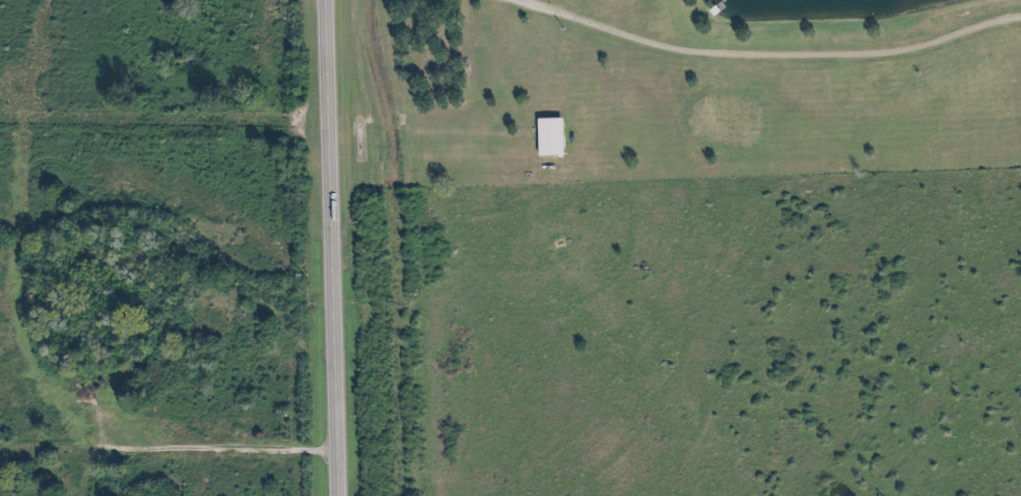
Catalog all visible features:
road: (761, 49)
road: (336, 247)
road: (219, 448)

